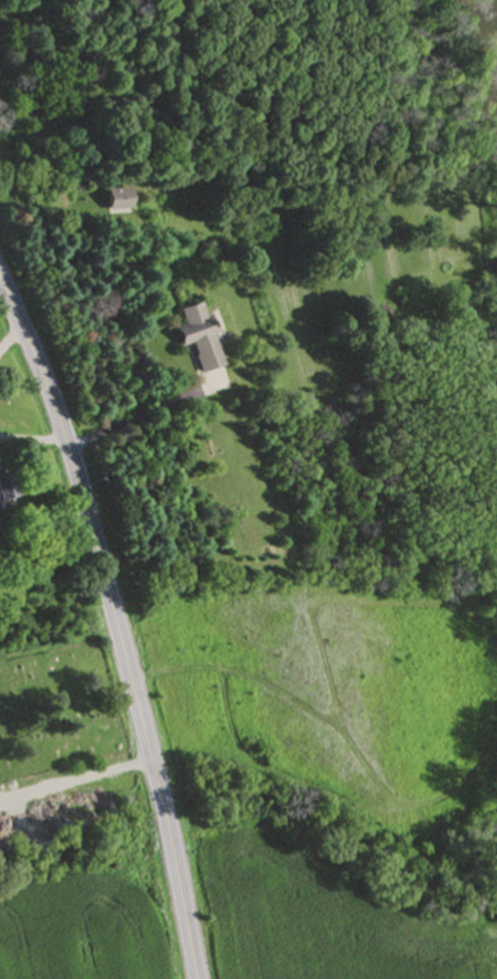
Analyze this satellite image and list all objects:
building: (119, 199)
road: (11, 327)
building: (198, 337)
road: (135, 426)
road: (35, 438)
building: (6, 490)
road: (118, 615)
park: (59, 712)

